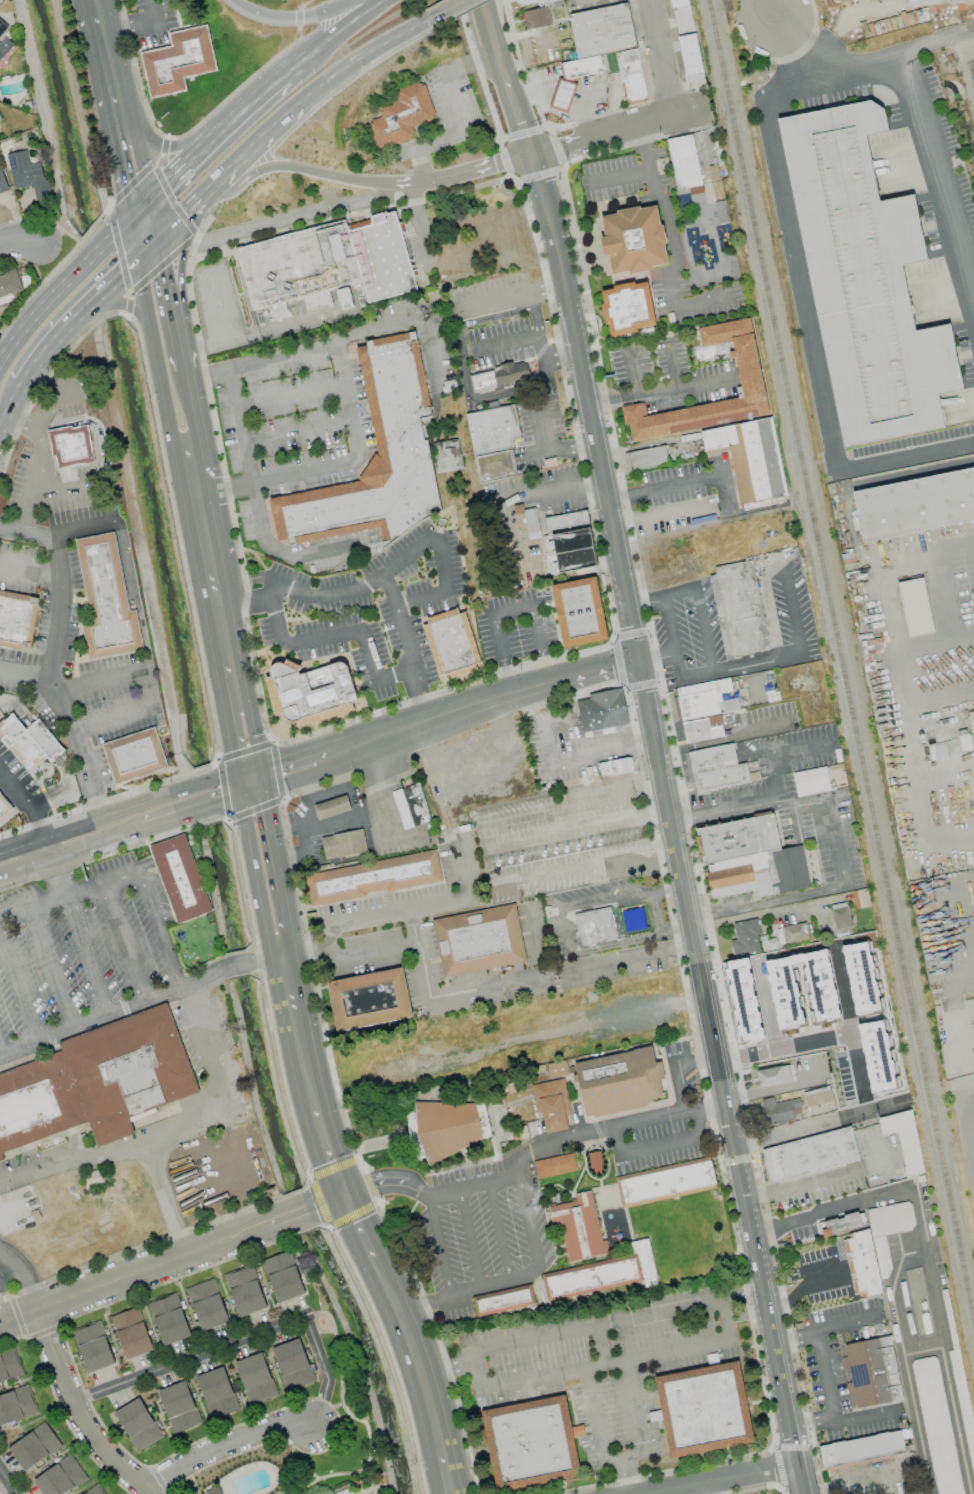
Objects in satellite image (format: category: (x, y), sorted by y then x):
building: (911, 1)
building: (535, 2)
building: (677, 3)
road: (304, 4)
road: (95, 5)
road: (448, 11)
road: (764, 11)
building: (536, 18)
road: (297, 21)
road: (139, 23)
building: (601, 30)
road: (339, 31)
road: (297, 37)
building: (4, 40)
road: (494, 41)
road: (541, 44)
building: (689, 54)
road: (370, 56)
road: (660, 60)
road: (108, 61)
building: (177, 61)
road: (519, 64)
road: (480, 69)
railway: (971, 73)
building: (631, 75)
building: (693, 77)
building: (572, 80)
road: (565, 96)
road: (263, 97)
road: (457, 114)
building: (400, 115)
road: (518, 119)
building: (0, 120)
road: (286, 121)
road: (919, 121)
road: (130, 124)
road: (615, 134)
road: (707, 143)
road: (184, 144)
traffic signals: (529, 157)
building: (683, 161)
road: (190, 167)
road: (296, 167)
road: (117, 169)
road: (145, 171)
road: (233, 171)
road: (458, 173)
building: (27, 174)
road: (619, 177)
building: (2, 182)
traffic signals: (151, 205)
road: (139, 216)
road: (184, 219)
road: (417, 222)
road: (276, 223)
road: (154, 225)
traffic signals: (128, 228)
road: (122, 233)
road: (50, 237)
building: (634, 240)
road: (19, 242)
road: (79, 244)
road: (673, 244)
traffic signals: (158, 245)
road: (132, 247)
road: (100, 253)
road: (147, 255)
building: (327, 262)
traffic signals: (136, 266)
road: (127, 274)
building: (864, 281)
building: (8, 286)
road: (107, 293)
building: (343, 298)
road: (143, 299)
road: (109, 305)
road: (92, 306)
road: (172, 308)
road: (92, 309)
building: (628, 309)
road: (38, 310)
road: (443, 311)
road: (804, 313)
road: (138, 316)
road: (222, 329)
road: (537, 329)
road: (508, 342)
road: (49, 347)
road: (433, 352)
road: (258, 363)
road: (562, 363)
road: (672, 365)
road: (463, 368)
road: (630, 374)
building: (507, 376)
building: (751, 379)
road: (657, 391)
road: (289, 396)
road: (163, 403)
road: (52, 405)
road: (588, 407)
road: (9, 411)
road: (193, 420)
building: (493, 428)
road: (296, 431)
road: (39, 445)
building: (69, 446)
road: (552, 448)
road: (104, 456)
building: (446, 456)
building: (379, 457)
building: (645, 458)
building: (751, 462)
road: (332, 465)
building: (498, 466)
road: (673, 486)
road: (725, 491)
road: (514, 499)
road: (253, 504)
building: (915, 504)
road: (25, 512)
building: (532, 523)
road: (10, 527)
building: (570, 539)
road: (207, 545)
road: (857, 548)
road: (438, 556)
road: (125, 566)
road: (30, 571)
road: (371, 584)
road: (61, 591)
building: (104, 600)
building: (914, 607)
building: (737, 609)
building: (577, 611)
road: (512, 612)
building: (17, 623)
road: (704, 630)
road: (537, 633)
road: (670, 636)
road: (324, 639)
road: (500, 642)
building: (453, 643)
road: (227, 644)
road: (793, 655)
traffic signals: (638, 660)
railway: (839, 663)
road: (546, 670)
road: (595, 670)
road: (396, 677)
road: (509, 680)
road: (234, 683)
road: (145, 684)
building: (316, 688)
road: (17, 709)
building: (703, 709)
building: (601, 711)
road: (447, 715)
building: (1, 716)
building: (971, 722)
road: (68, 724)
road: (254, 730)
road: (228, 735)
road: (726, 739)
building: (31, 740)
road: (43, 742)
road: (798, 748)
road: (302, 755)
building: (131, 756)
road: (574, 757)
traffic signals: (261, 765)
building: (614, 767)
road: (248, 768)
building: (718, 768)
traffic signals: (235, 772)
road: (306, 773)
road: (262, 775)
road: (62, 780)
road: (770, 781)
building: (810, 781)
road: (236, 783)
traffic signals: (264, 786)
road: (250, 790)
road: (168, 794)
traffic signals: (237, 794)
road: (63, 800)
road: (26, 801)
building: (412, 805)
building: (5, 807)
gas station: (5, 807)
building: (333, 807)
road: (445, 808)
road: (755, 810)
road: (182, 812)
road: (342, 819)
road: (680, 825)
road: (50, 834)
road: (836, 840)
road: (518, 841)
building: (345, 844)
road: (63, 851)
building: (749, 858)
road: (276, 865)
road: (251, 872)
building: (373, 877)
building: (179, 878)
road: (68, 896)
road: (624, 897)
building: (860, 898)
road: (768, 904)
road: (769, 913)
building: (840, 917)
road: (77, 924)
building: (594, 926)
road: (158, 929)
road: (565, 931)
building: (794, 932)
building: (745, 938)
road: (541, 939)
road: (635, 939)
road: (969, 939)
building: (478, 941)
road: (124, 942)
road: (305, 950)
road: (344, 952)
road: (50, 967)
building: (860, 977)
road: (18, 988)
building: (368, 999)
road: (139, 1001)
road: (647, 1009)
road: (825, 1037)
road: (298, 1038)
road: (0, 1050)
road: (676, 1067)
building: (557, 1069)
building: (773, 1076)
road: (721, 1077)
building: (94, 1081)
building: (618, 1082)
road: (772, 1091)
road: (967, 1093)
building: (817, 1097)
building: (551, 1104)
building: (778, 1111)
building: (446, 1127)
road: (820, 1127)
road: (967, 1129)
road: (174, 1134)
building: (903, 1139)
road: (660, 1146)
road: (530, 1154)
building: (809, 1154)
building: (595, 1162)
road: (333, 1163)
building: (554, 1165)
road: (831, 1177)
building: (665, 1181)
traffic signals: (344, 1195)
road: (167, 1202)
road: (527, 1216)
building: (842, 1224)
building: (579, 1227)
road: (360, 1231)
road: (498, 1231)
park: (684, 1236)
road: (469, 1240)
road: (437, 1246)
building: (874, 1246)
road: (191, 1253)
road: (10, 1267)
road: (27, 1272)
building: (601, 1273)
building: (283, 1276)
road: (896, 1277)
road: (801, 1289)
building: (244, 1291)
road: (468, 1291)
road: (933, 1295)
road: (742, 1296)
building: (503, 1300)
building: (207, 1304)
road: (746, 1315)
road: (18, 1316)
building: (169, 1319)
road: (838, 1322)
road: (726, 1331)
building: (131, 1333)
road: (240, 1338)
road: (788, 1339)
road: (601, 1345)
building: (93, 1347)
road: (409, 1349)
building: (292, 1364)
building: (9, 1366)
road: (442, 1366)
building: (871, 1372)
road: (822, 1376)
building: (255, 1378)
building: (216, 1393)
building: (16, 1405)
building: (963, 1406)
building: (178, 1407)
building: (703, 1409)
road: (76, 1411)
road: (854, 1419)
building: (137, 1424)
road: (917, 1424)
road: (806, 1425)
building: (936, 1425)
building: (34, 1446)
road: (225, 1446)
building: (537, 1446)
building: (861, 1449)
road: (622, 1454)
road: (445, 1463)
road: (630, 1474)
building: (60, 1477)
road: (722, 1478)
road: (857, 1478)
road: (6, 1483)
road: (701, 1488)
building: (93, 1490)
building: (210, 1490)
building: (340, 1492)

